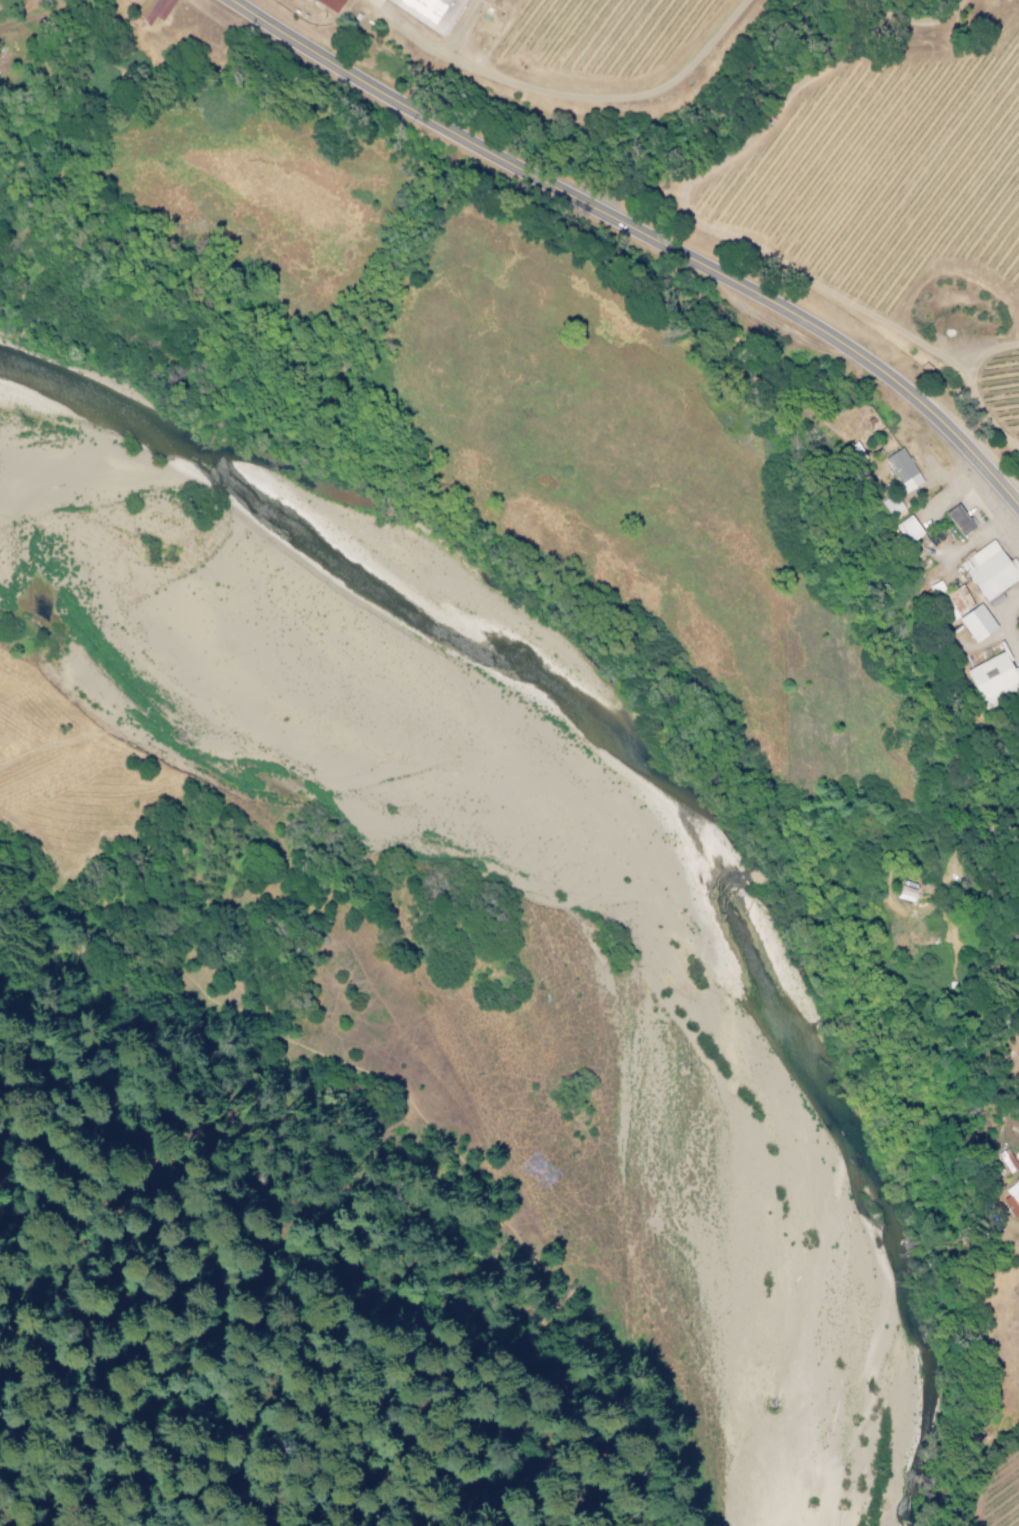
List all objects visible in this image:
building: (286, 0)
building: (327, 4)
building: (151, 10)
building: (426, 12)
road: (640, 232)
building: (900, 470)
building: (964, 521)
building: (905, 530)
building: (987, 572)
building: (952, 598)
building: (1018, 619)
building: (974, 623)
building: (991, 681)
river: (588, 857)
building: (905, 893)
road: (386, 1020)
building: (1006, 1160)
road: (330, 1191)
building: (1011, 1200)
road: (471, 1365)
road: (5, 1522)

